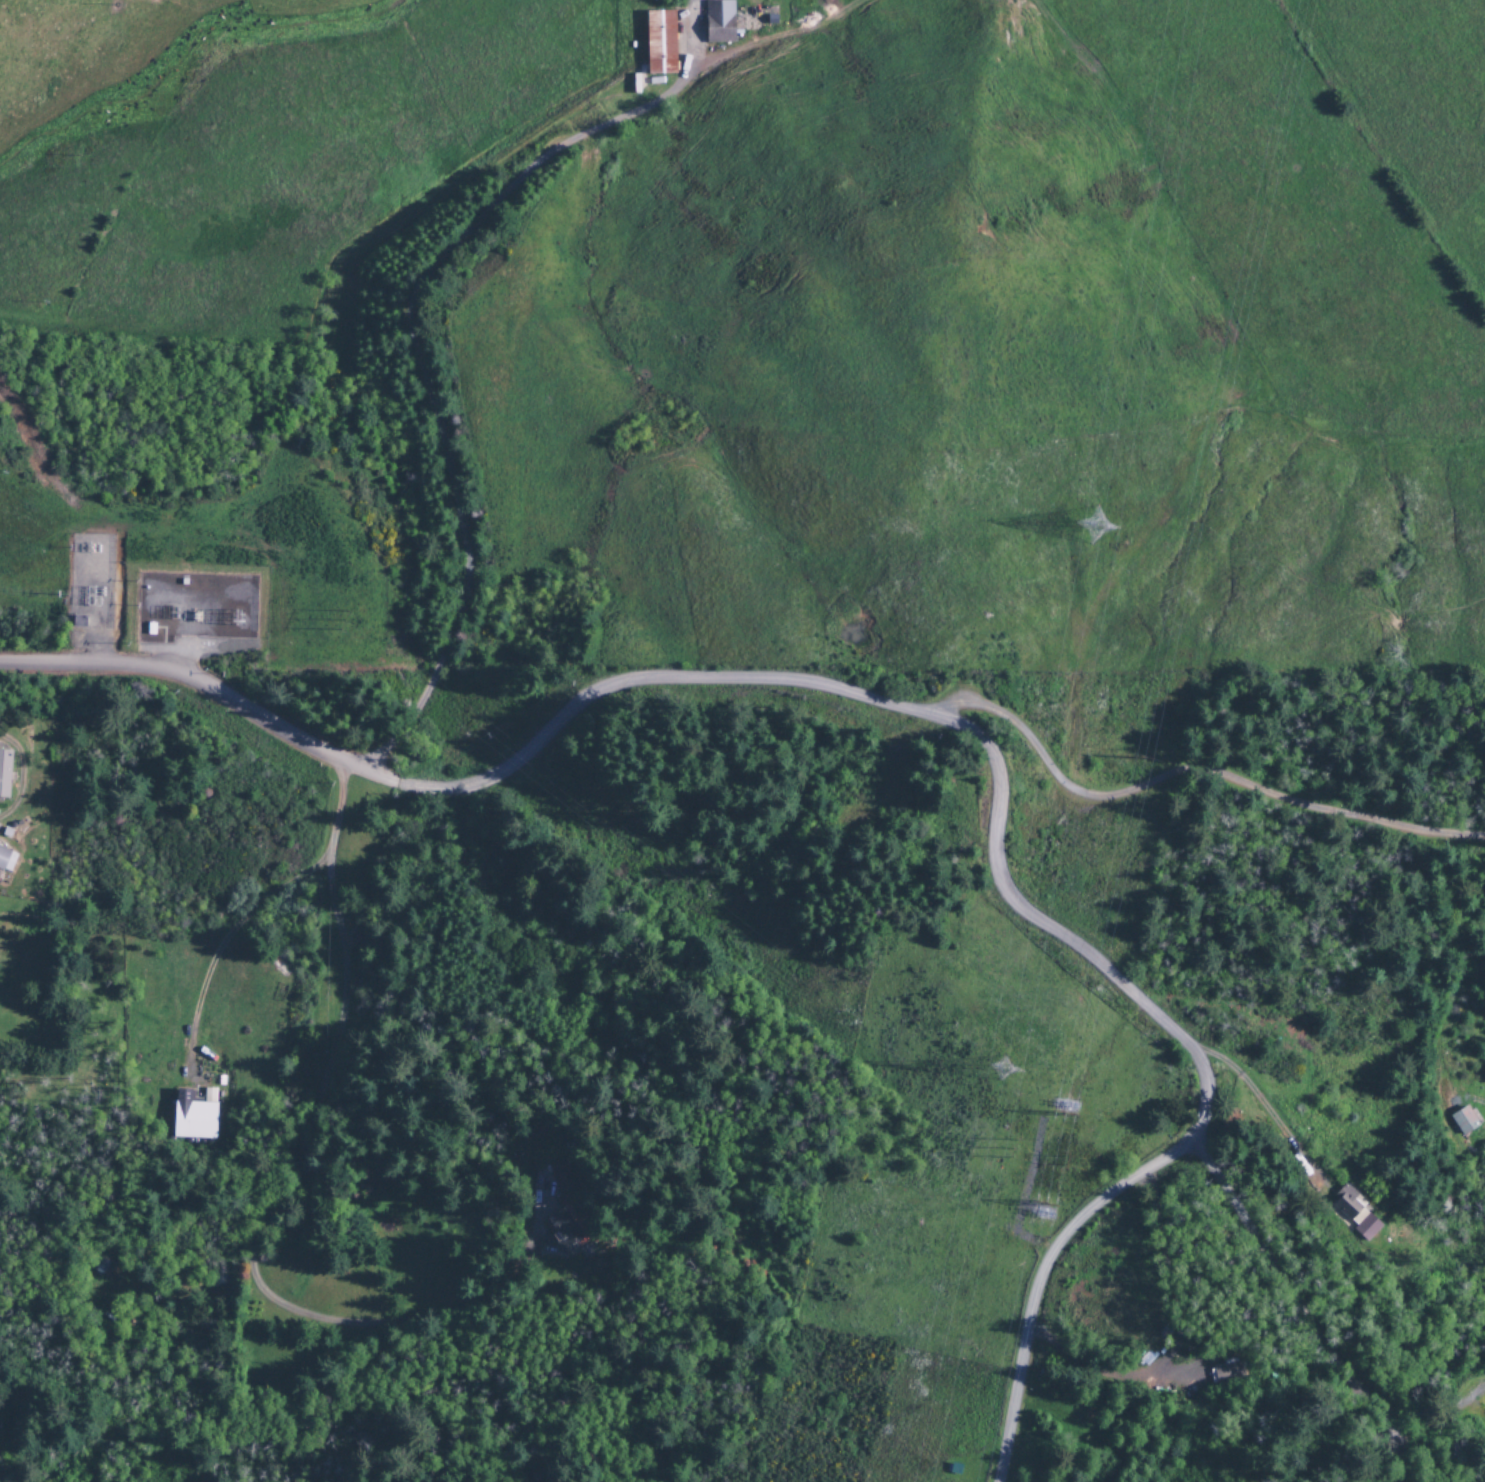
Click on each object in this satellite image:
building: (718, 22)
building: (658, 43)
road: (414, 338)
power tower: (1091, 526)
building: (4, 774)
road: (1194, 779)
road: (471, 783)
building: (5, 861)
road: (1044, 925)
power tower: (998, 1069)
building: (194, 1116)
building: (1463, 1121)
building: (559, 1176)
building: (1353, 1215)
building: (561, 1229)
road: (1324, 1267)
road: (1044, 1282)
building: (1225, 1374)

